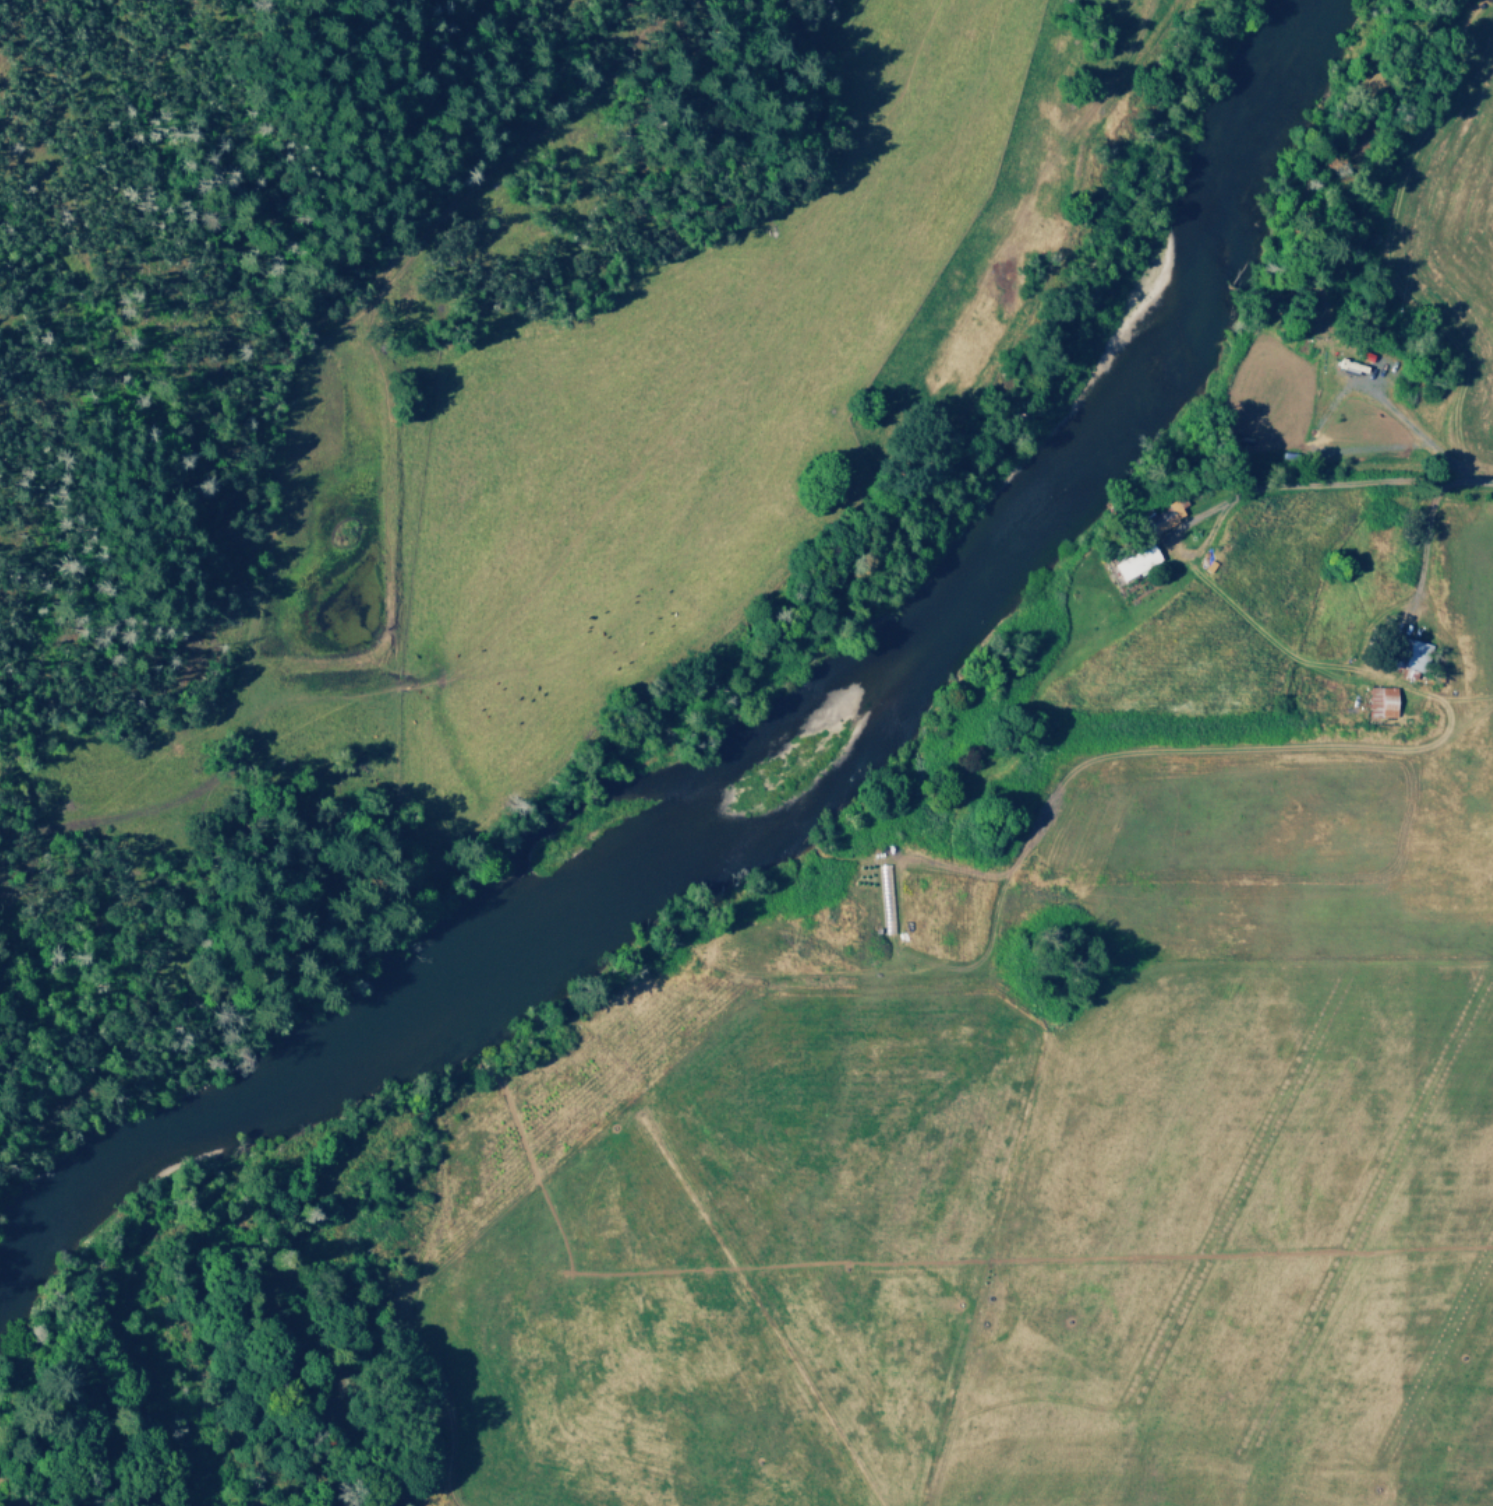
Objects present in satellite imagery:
road: (1335, 397)
road: (1482, 481)
road: (1258, 489)
building: (1161, 516)
road: (1423, 544)
building: (1134, 561)
building: (1409, 653)
building: (1379, 702)
river: (763, 752)

